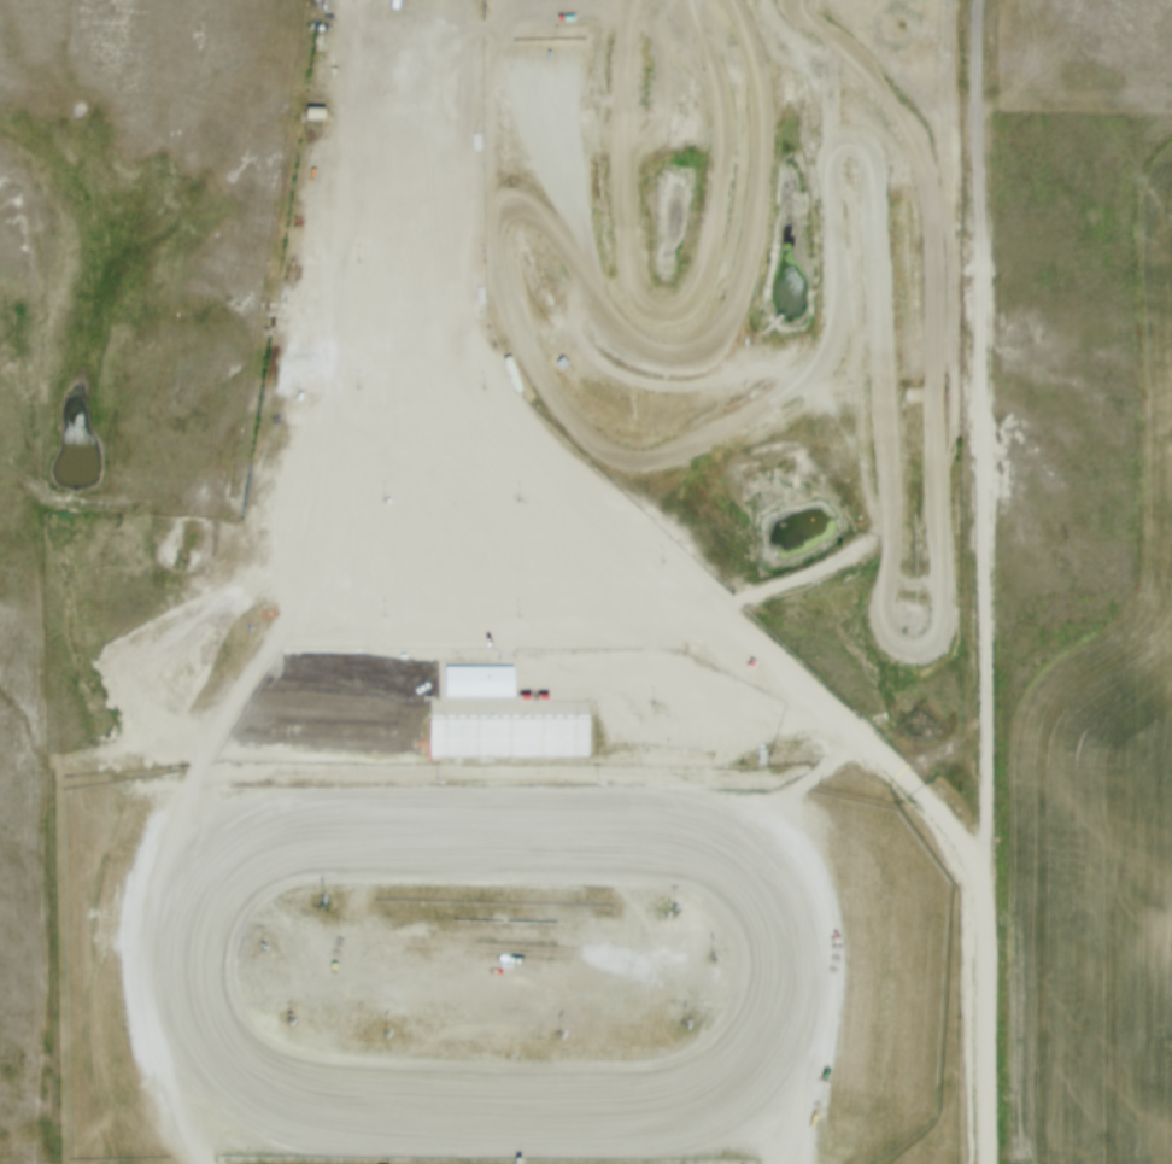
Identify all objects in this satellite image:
raceway: (672, 299)
raceway: (516, 317)
road: (985, 492)
road: (783, 587)
raceway: (919, 621)
road: (865, 797)
road: (175, 1075)
road: (988, 1075)
raceway: (634, 1101)

